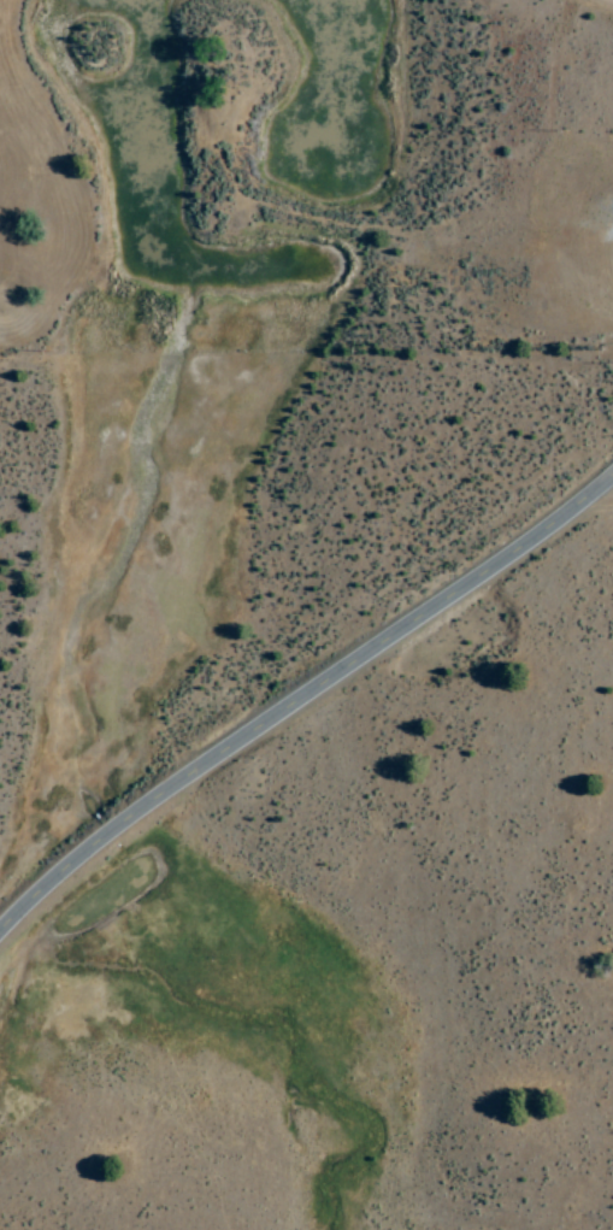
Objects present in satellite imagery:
road: (301, 705)

